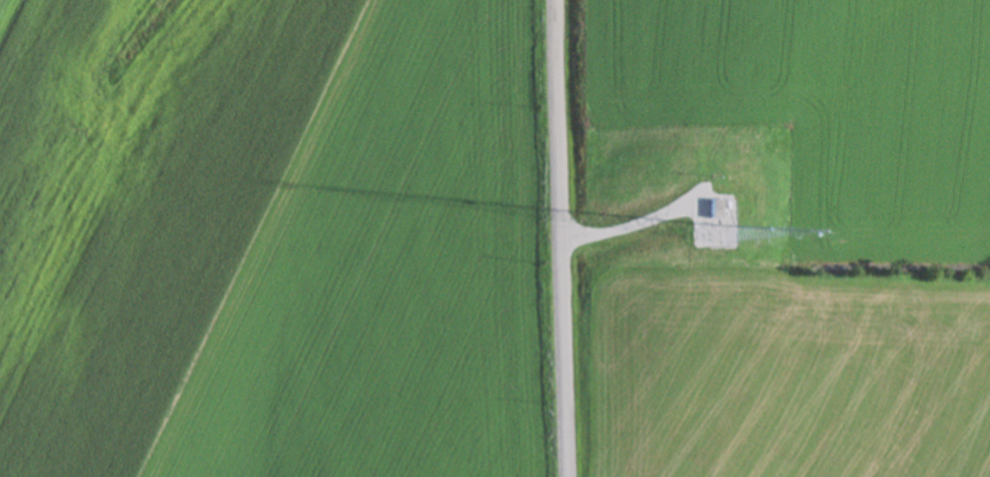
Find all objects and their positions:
road: (564, 238)
building: (775, 436)
building: (685, 440)
building: (827, 471)

